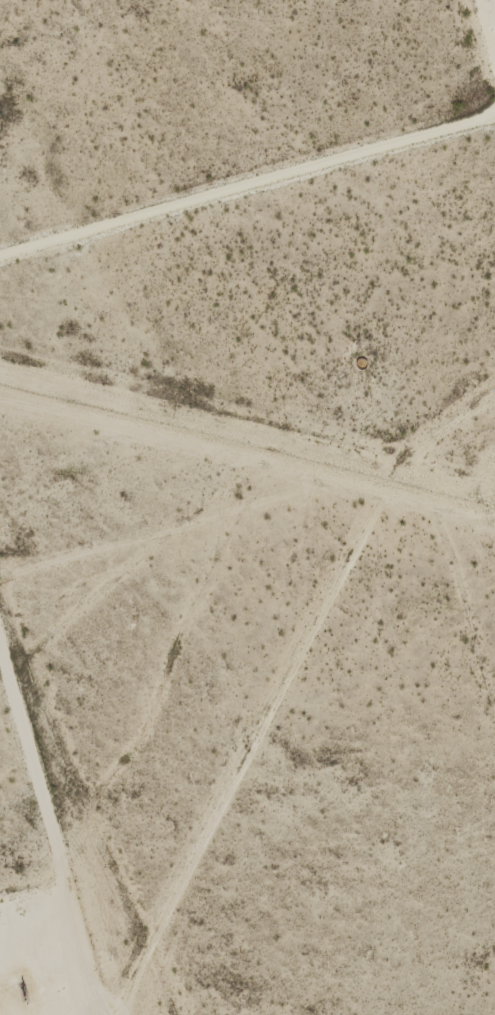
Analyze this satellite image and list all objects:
road: (47, 839)

